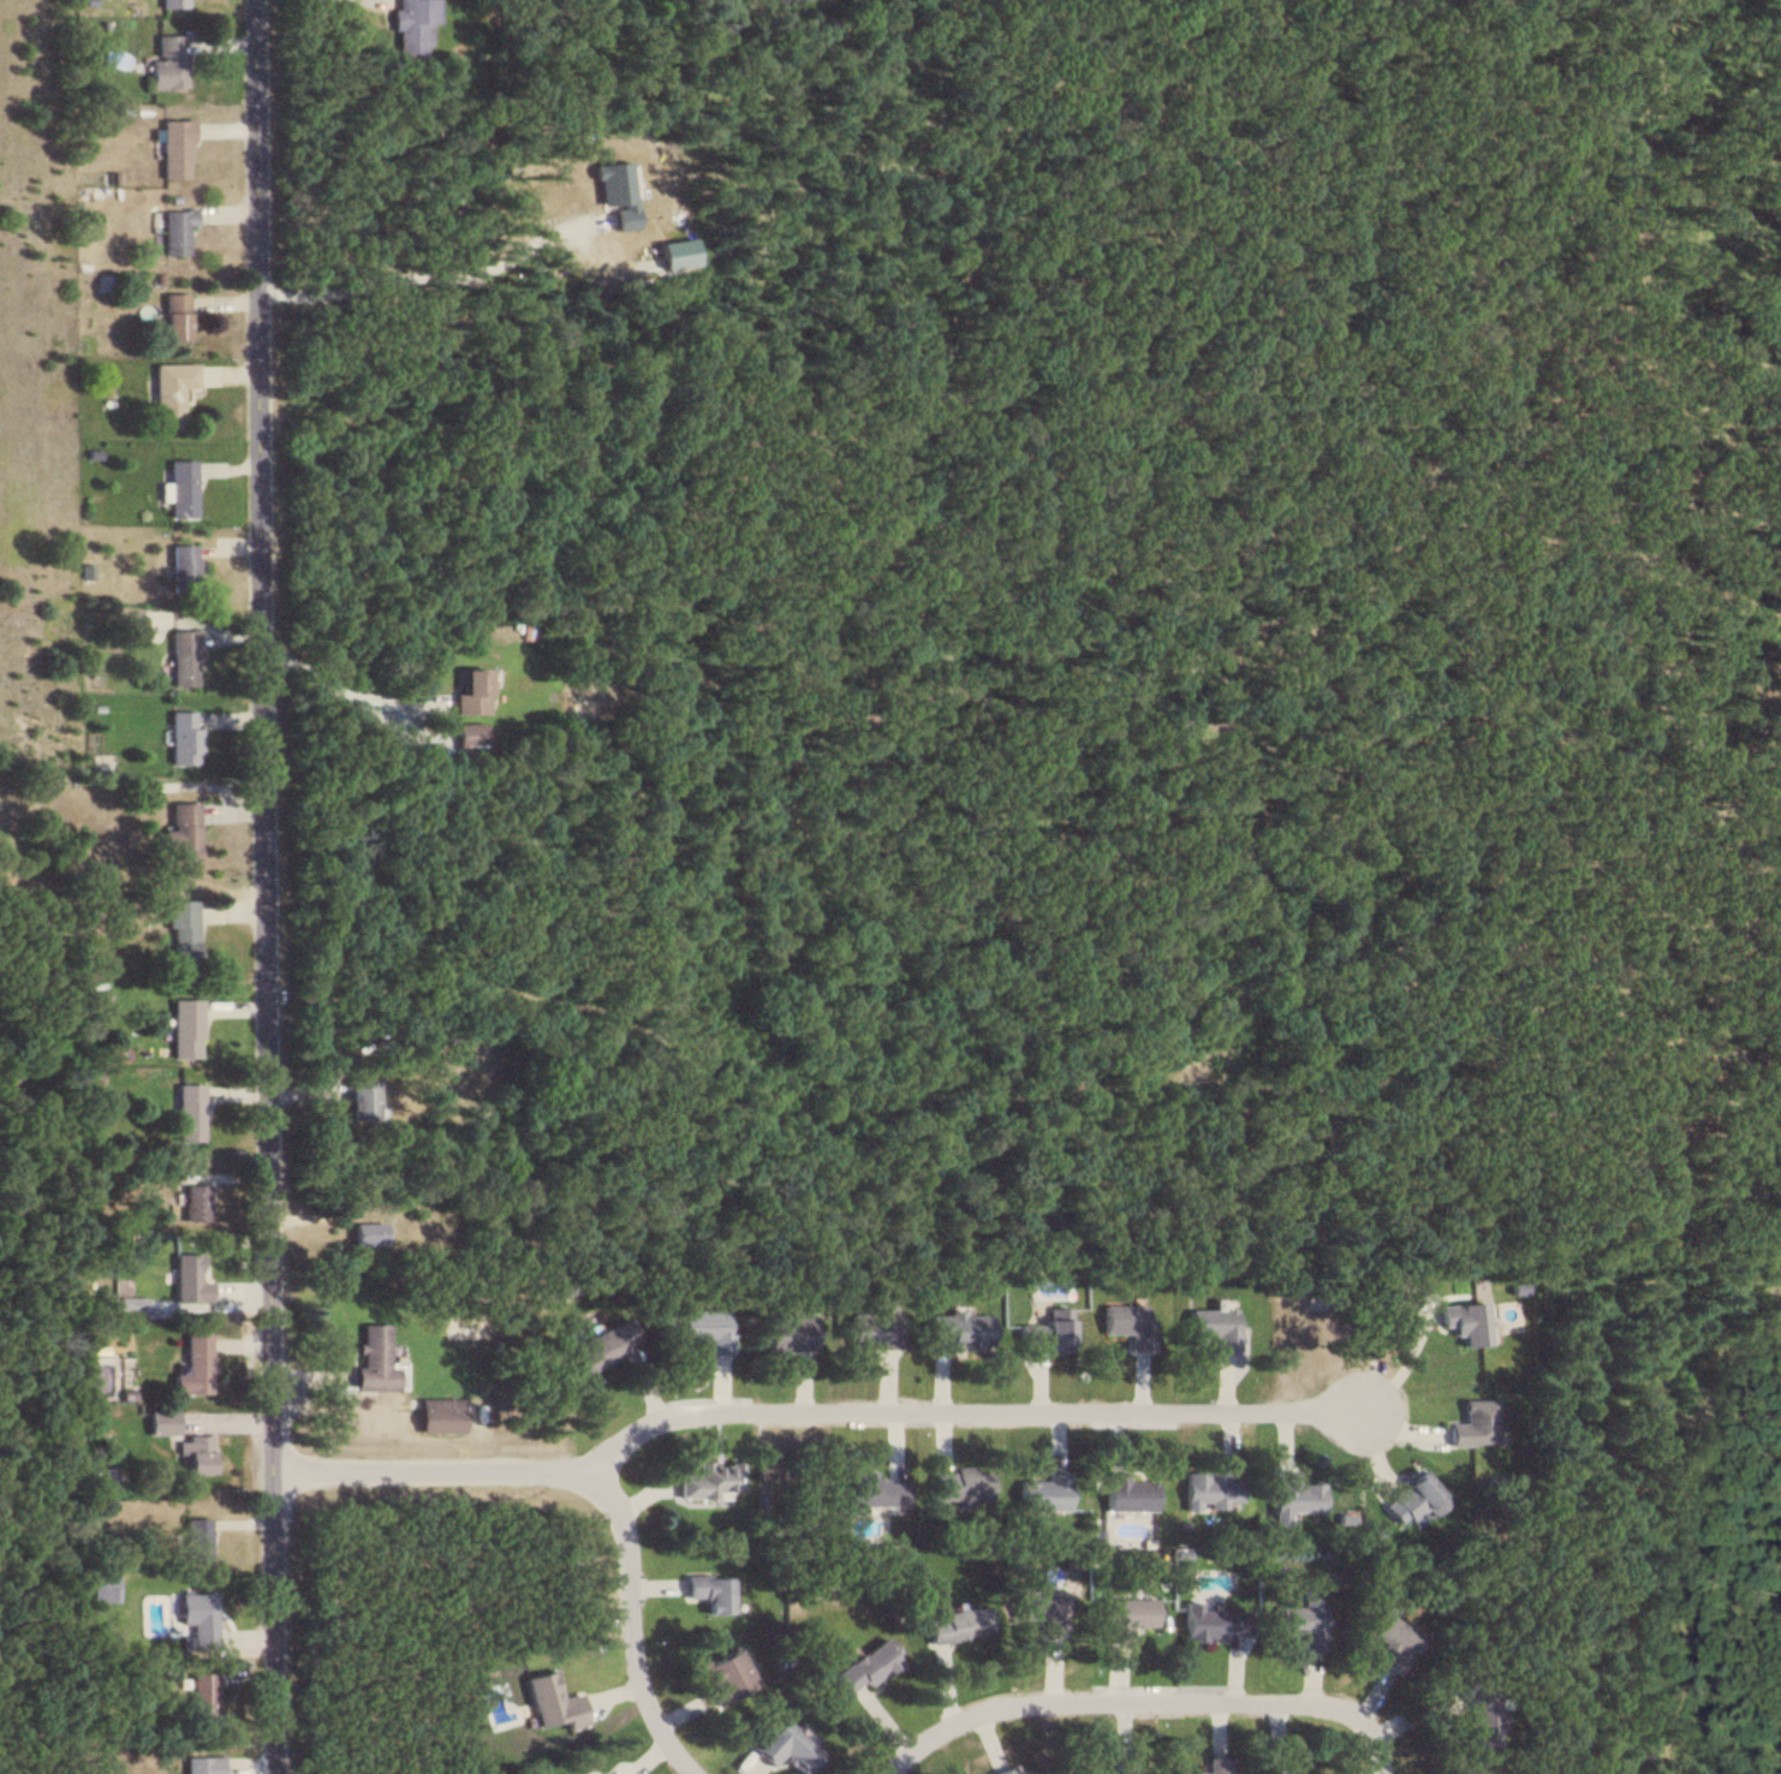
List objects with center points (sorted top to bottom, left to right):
building: (172, 2)
building: (415, 24)
building: (167, 61)
building: (174, 148)
building: (175, 230)
road: (418, 287)
building: (174, 317)
building: (171, 391)
building: (180, 488)
building: (183, 565)
building: (183, 657)
road: (344, 689)
building: (471, 692)
building: (184, 737)
building: (469, 737)
building: (181, 831)
road: (260, 886)
building: (181, 933)
building: (185, 1029)
building: (359, 1100)
building: (187, 1112)
building: (193, 1203)
building: (365, 1234)
building: (1466, 1322)
building: (1127, 1324)
building: (1213, 1327)
building: (704, 1329)
building: (959, 1329)
building: (872, 1332)
building: (788, 1334)
building: (1043, 1334)
building: (602, 1346)
building: (374, 1361)
building: (192, 1365)
road: (800, 1412)
building: (439, 1416)
building: (160, 1422)
building: (1472, 1423)
building: (193, 1452)
building: (709, 1478)
building: (959, 1484)
building: (874, 1489)
building: (1208, 1489)
building: (1042, 1493)
building: (1125, 1493)
building: (1289, 1496)
building: (1411, 1500)
building: (195, 1538)
building: (708, 1590)
building: (1038, 1607)
building: (1125, 1614)
building: (197, 1617)
building: (1210, 1620)
building: (1300, 1620)
building: (955, 1624)
road: (627, 1626)
building: (1392, 1639)
building: (864, 1665)
building: (723, 1674)
building: (201, 1697)
building: (550, 1702)
road: (1143, 1702)
building: (1478, 1716)
building: (782, 1744)
building: (201, 1764)
building: (1115, 1764)
building: (1209, 1766)
building: (1274, 1769)
building: (1001, 1770)

